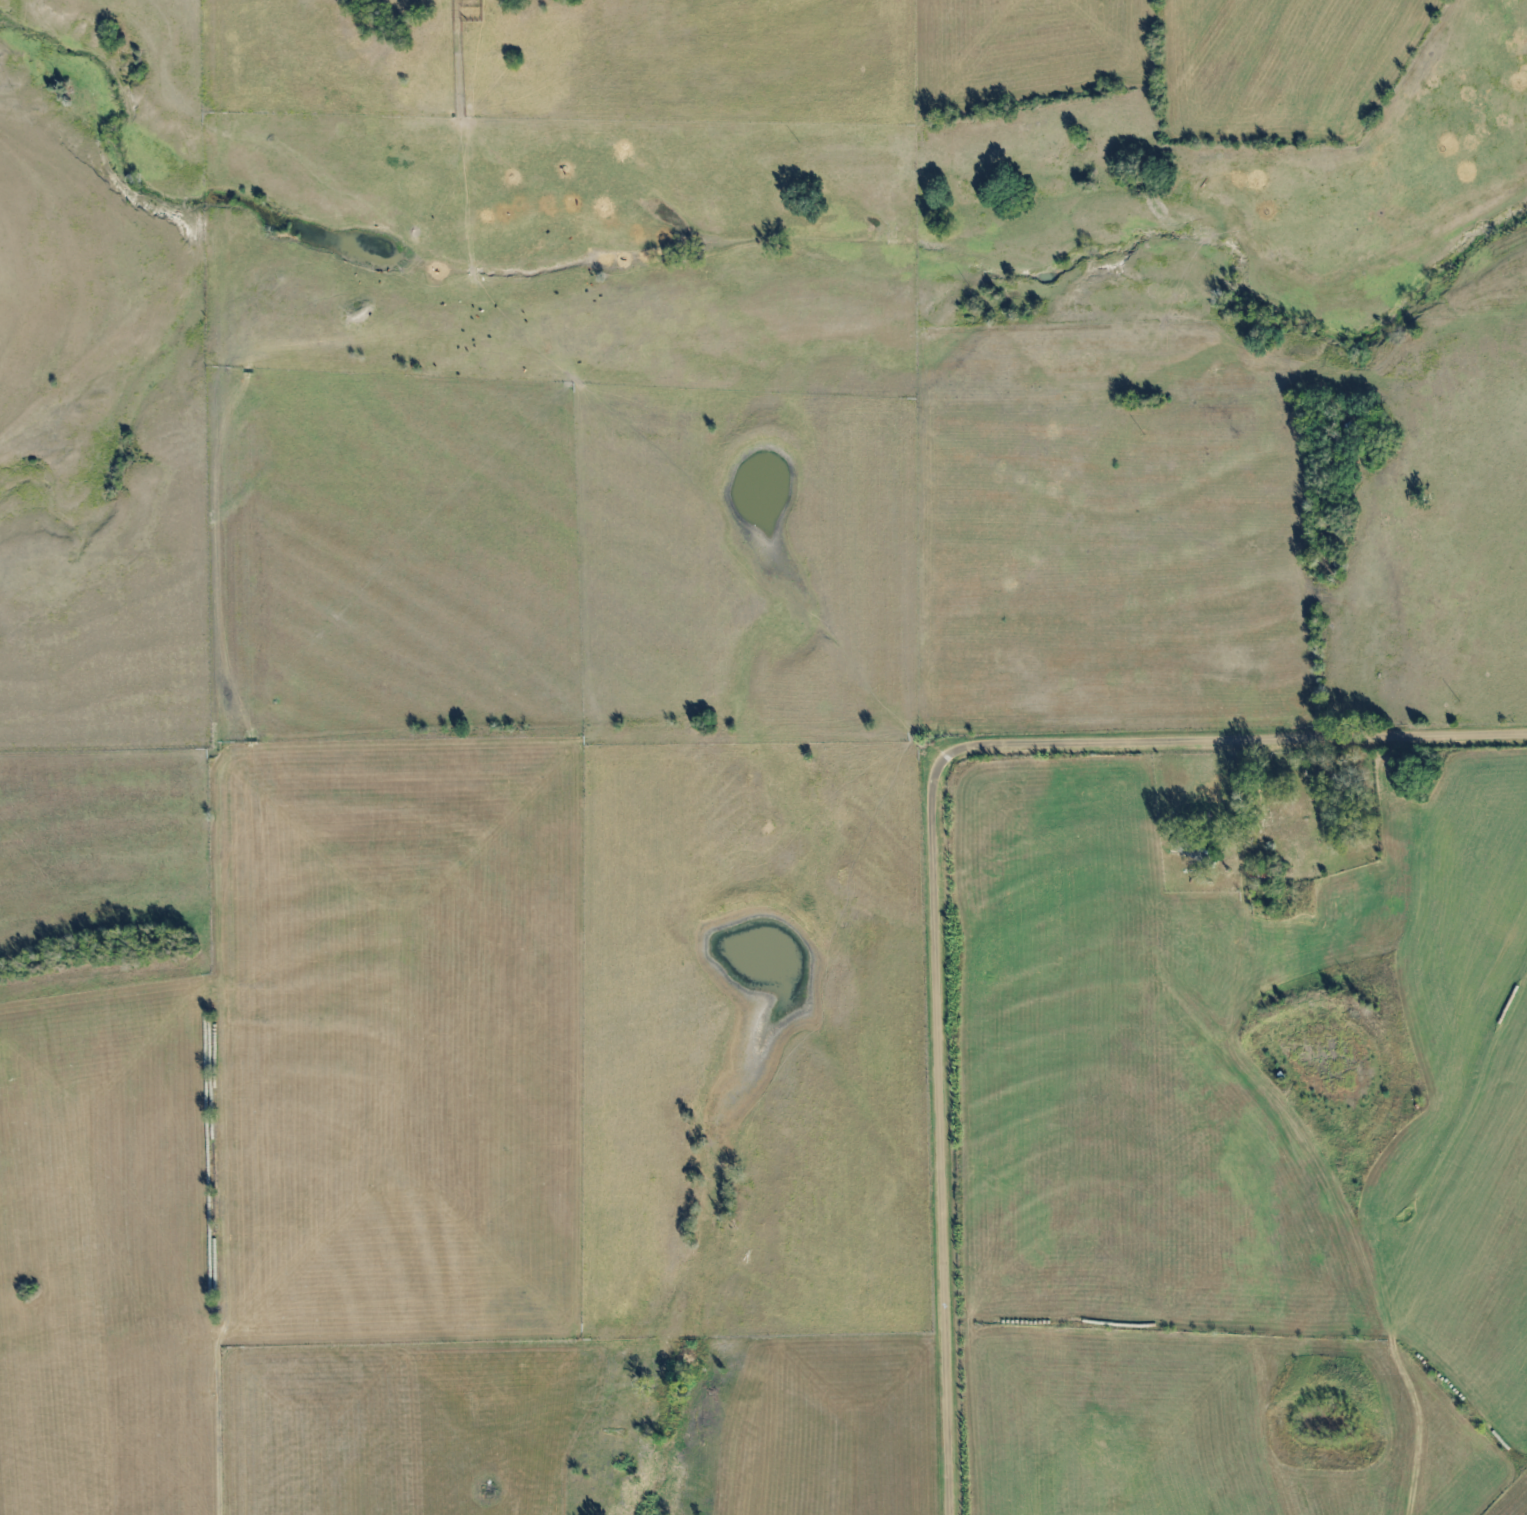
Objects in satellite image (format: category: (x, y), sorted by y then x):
building: (468, 4)
building: (1348, 426)
road: (931, 840)
building: (1260, 875)

